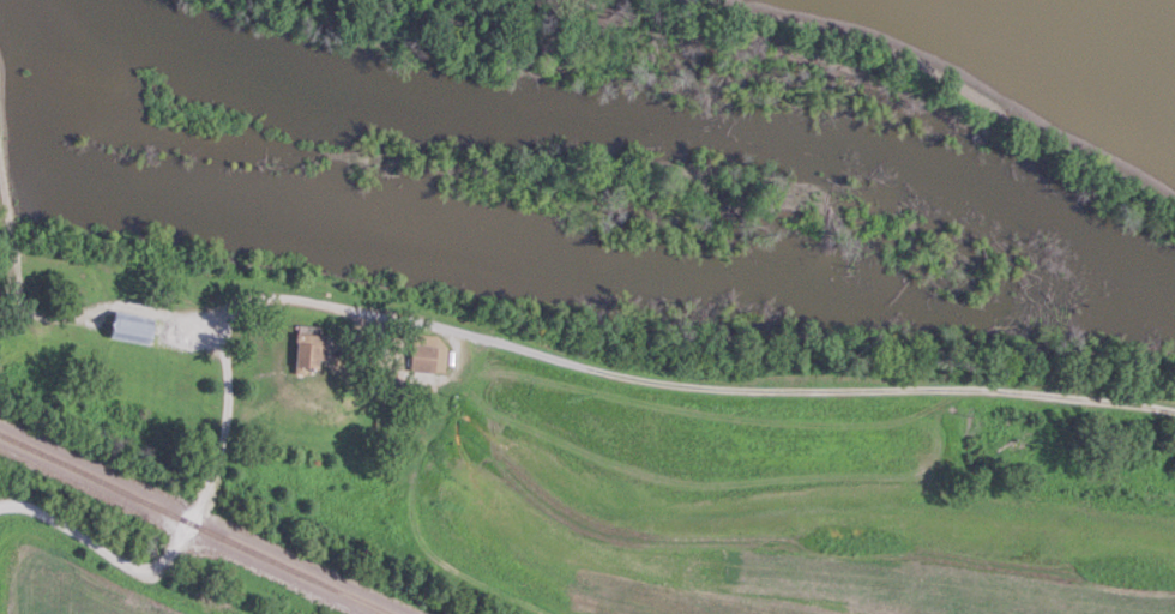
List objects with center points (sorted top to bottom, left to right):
road: (323, 306)
railway: (192, 523)
road: (114, 555)

